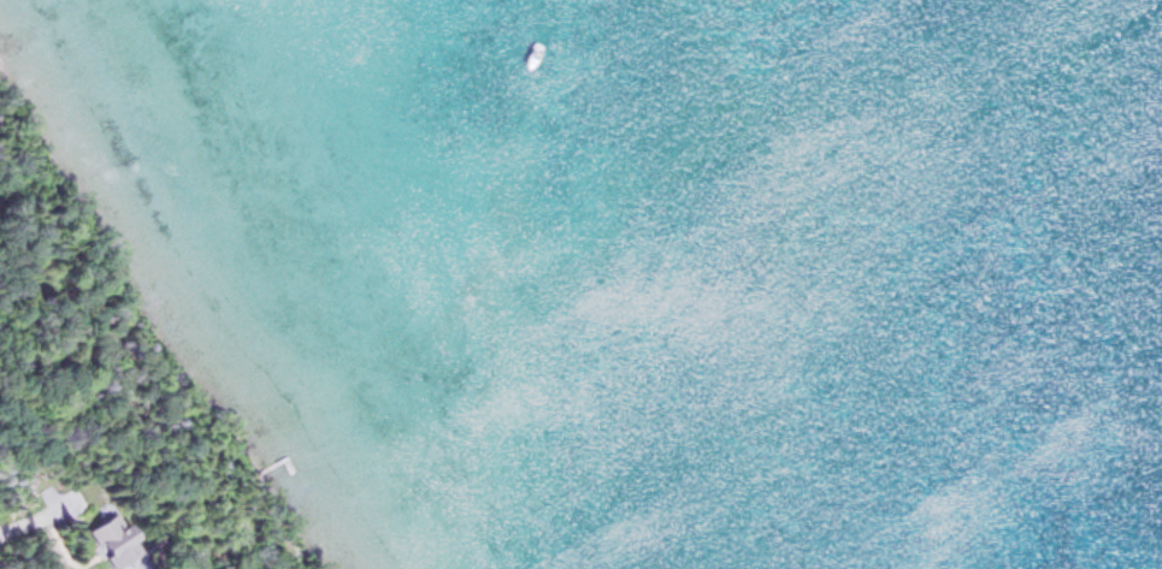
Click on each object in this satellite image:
building: (118, 539)

